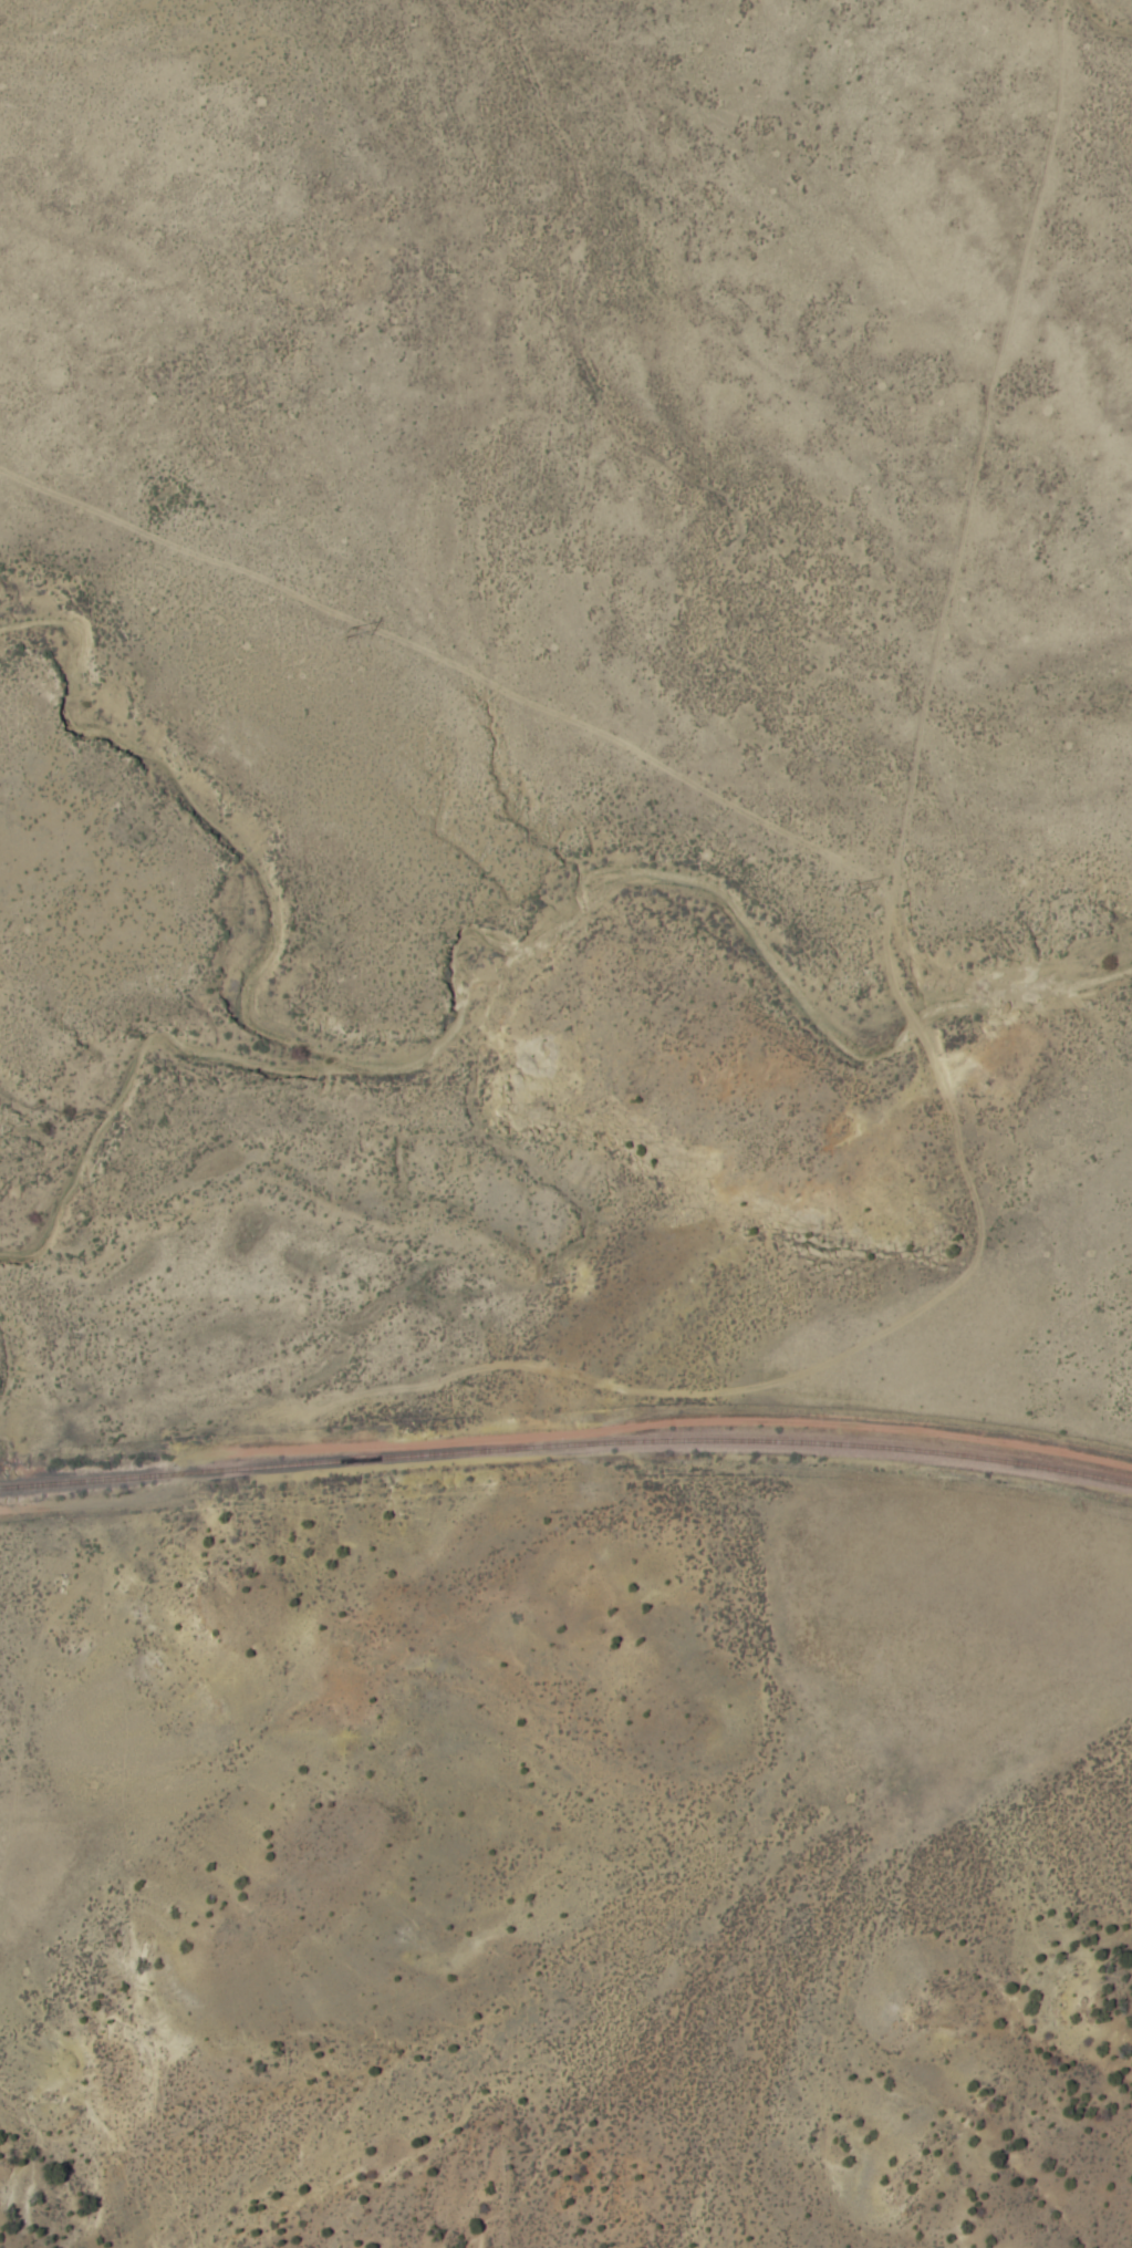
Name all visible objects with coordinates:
road: (681, 157)
road: (584, 253)
road: (918, 700)
road: (515, 1365)
railway: (567, 1444)

